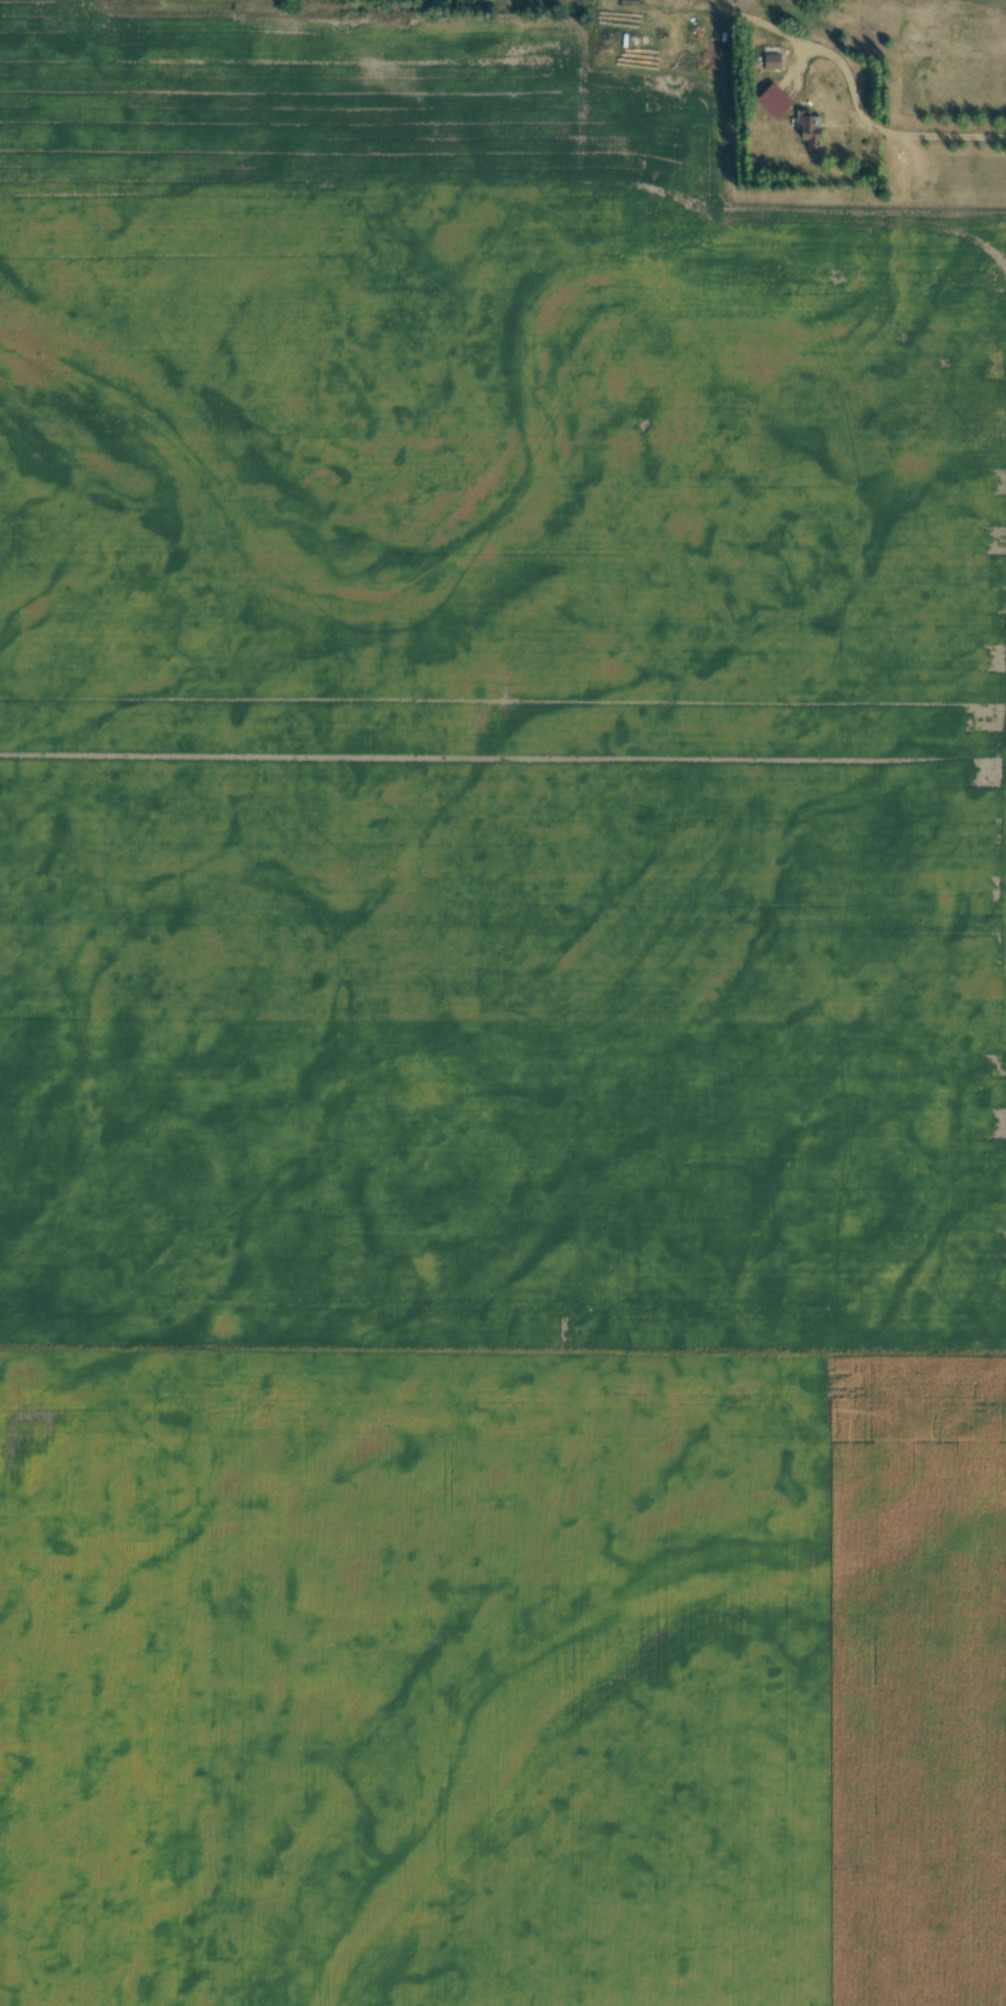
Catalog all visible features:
road: (754, 17)
road: (868, 118)
building: (810, 129)

